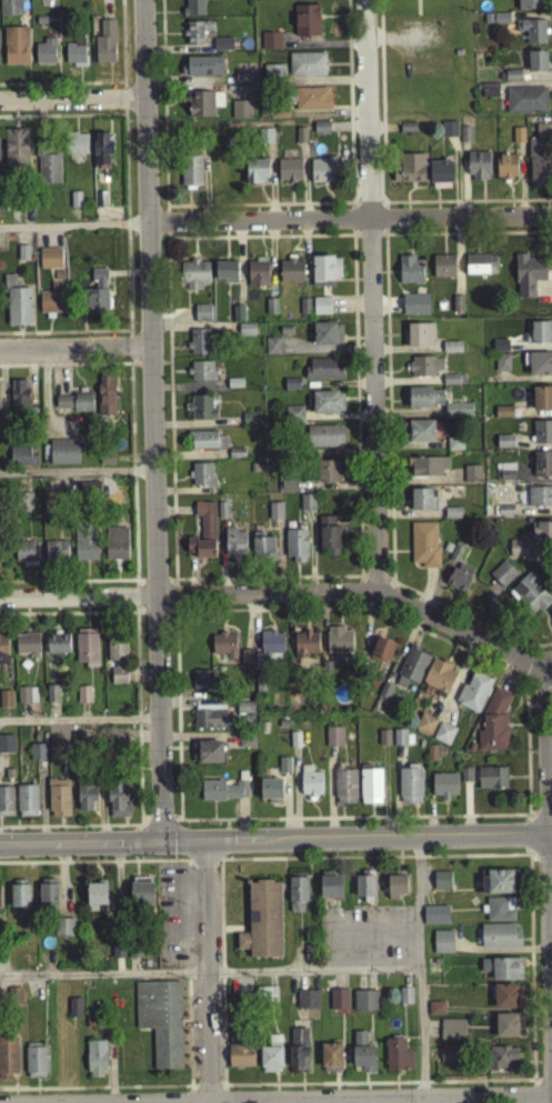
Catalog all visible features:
building: (219, 0)
building: (305, 0)
building: (530, 7)
building: (193, 9)
building: (10, 10)
road: (416, 10)
building: (486, 23)
building: (500, 23)
building: (305, 26)
road: (416, 31)
building: (531, 34)
building: (197, 37)
road: (393, 42)
road: (121, 46)
building: (270, 46)
building: (104, 48)
building: (222, 49)
parking lot: (415, 50)
building: (14, 51)
building: (44, 57)
building: (74, 58)
building: (458, 58)
building: (535, 66)
building: (305, 69)
building: (204, 71)
building: (272, 77)
building: (512, 80)
building: (242, 82)
road: (60, 89)
building: (489, 94)
road: (122, 103)
building: (311, 103)
building: (525, 104)
road: (71, 106)
building: (203, 108)
building: (240, 114)
road: (64, 121)
building: (321, 132)
building: (407, 132)
road: (381, 133)
building: (449, 133)
building: (464, 139)
building: (300, 140)
building: (264, 141)
building: (77, 148)
building: (16, 153)
building: (101, 154)
building: (538, 167)
building: (47, 171)
building: (478, 171)
building: (505, 171)
building: (409, 172)
building: (190, 174)
building: (289, 176)
building: (322, 176)
building: (255, 177)
building: (440, 179)
road: (379, 189)
road: (260, 197)
road: (367, 208)
road: (380, 208)
road: (267, 209)
road: (351, 209)
road: (258, 210)
road: (384, 210)
road: (255, 213)
road: (165, 215)
road: (255, 221)
road: (349, 223)
road: (384, 223)
road: (351, 224)
road: (165, 228)
road: (72, 231)
road: (126, 231)
road: (351, 240)
road: (352, 240)
road: (368, 240)
road: (383, 240)
road: (167, 241)
building: (49, 263)
building: (479, 269)
building: (443, 271)
building: (291, 274)
building: (410, 274)
building: (225, 275)
building: (324, 275)
building: (257, 278)
building: (193, 279)
building: (526, 279)
building: (97, 297)
road: (370, 298)
building: (50, 304)
building: (17, 308)
building: (415, 309)
building: (321, 311)
building: (201, 318)
road: (142, 334)
building: (539, 337)
road: (68, 338)
building: (327, 339)
building: (419, 340)
building: (198, 347)
building: (499, 350)
building: (272, 351)
building: (451, 352)
road: (129, 353)
road: (74, 355)
building: (501, 368)
building: (538, 368)
road: (136, 369)
road: (148, 369)
road: (164, 369)
road: (69, 370)
building: (424, 371)
building: (323, 373)
building: (200, 375)
building: (451, 384)
building: (291, 389)
building: (18, 400)
building: (106, 400)
building: (424, 402)
building: (541, 403)
building: (327, 407)
building: (72, 408)
building: (200, 412)
building: (458, 415)
road: (388, 417)
building: (502, 417)
building: (293, 419)
road: (150, 422)
building: (420, 435)
building: (542, 437)
building: (323, 441)
building: (205, 444)
building: (503, 447)
building: (454, 449)
building: (63, 457)
building: (20, 462)
building: (542, 469)
building: (428, 471)
building: (327, 475)
road: (74, 477)
building: (504, 477)
building: (200, 479)
building: (471, 479)
road: (132, 481)
building: (288, 491)
building: (88, 494)
building: (539, 501)
building: (420, 504)
building: (51, 505)
building: (23, 507)
building: (307, 508)
building: (274, 515)
building: (202, 537)
building: (542, 538)
building: (328, 540)
building: (86, 545)
building: (234, 548)
building: (116, 549)
building: (424, 549)
building: (295, 550)
building: (261, 552)
building: (516, 554)
building: (26, 555)
building: (54, 555)
building: (1, 556)
building: (502, 578)
road: (359, 581)
building: (459, 582)
road: (375, 583)
road: (153, 584)
road: (171, 584)
road: (389, 584)
road: (71, 586)
road: (393, 591)
road: (359, 592)
road: (284, 598)
road: (390, 599)
building: (530, 599)
road: (172, 601)
road: (136, 602)
road: (136, 613)
road: (319, 614)
road: (155, 616)
road: (171, 616)
road: (140, 618)
building: (338, 645)
road: (136, 646)
building: (57, 648)
building: (27, 649)
building: (304, 649)
building: (223, 650)
road: (514, 650)
building: (271, 651)
building: (86, 652)
building: (2, 653)
building: (381, 653)
road: (508, 661)
building: (116, 662)
road: (503, 671)
building: (411, 672)
building: (439, 681)
building: (202, 684)
building: (472, 696)
building: (383, 698)
building: (51, 699)
building: (82, 699)
building: (26, 700)
building: (4, 703)
road: (530, 710)
road: (543, 710)
building: (244, 713)
building: (209, 723)
road: (78, 725)
building: (493, 728)
building: (424, 730)
building: (443, 738)
building: (112, 740)
building: (332, 741)
building: (383, 742)
building: (399, 742)
building: (245, 748)
building: (6, 749)
road: (545, 756)
building: (52, 758)
building: (209, 758)
building: (37, 762)
building: (283, 770)
building: (464, 780)
building: (491, 782)
building: (309, 786)
building: (409, 790)
building: (344, 791)
building: (370, 791)
building: (443, 791)
building: (270, 793)
building: (222, 795)
building: (86, 801)
building: (58, 803)
building: (117, 804)
building: (26, 805)
building: (6, 806)
road: (543, 819)
road: (532, 820)
road: (139, 821)
road: (160, 822)
road: (175, 822)
road: (143, 823)
road: (377, 823)
road: (205, 825)
road: (76, 831)
road: (354, 840)
road: (79, 846)
traffic signals: (159, 846)
traffic signals: (204, 846)
road: (223, 848)
road: (134, 849)
road: (317, 863)
road: (134, 864)
road: (219, 865)
road: (96, 868)
road: (191, 870)
road: (203, 870)
road: (190, 871)
road: (550, 883)
building: (441, 885)
building: (499, 886)
building: (364, 890)
building: (397, 890)
building: (330, 891)
building: (141, 896)
building: (297, 896)
building: (96, 899)
building: (48, 901)
building: (19, 902)
building: (0, 912)
building: (500, 914)
road: (342, 920)
road: (219, 921)
building: (434, 921)
road: (189, 923)
building: (261, 925)
building: (63, 932)
road: (372, 933)
road: (232, 934)
building: (499, 941)
parking lot: (367, 942)
road: (372, 945)
building: (442, 947)
road: (372, 964)
road: (419, 970)
building: (502, 973)
road: (207, 974)
road: (221, 977)
road: (313, 977)
road: (103, 980)
road: (187, 980)
building: (264, 1000)
building: (14, 1001)
building: (405, 1001)
building: (508, 1002)
building: (339, 1004)
building: (307, 1005)
building: (364, 1005)
building: (74, 1013)
building: (435, 1014)
building: (160, 1025)
road: (184, 1027)
building: (509, 1031)
building: (452, 1035)
road: (221, 1040)
road: (189, 1041)
building: (298, 1054)
building: (362, 1057)
building: (450, 1060)
building: (271, 1061)
building: (398, 1061)
building: (8, 1062)
building: (240, 1062)
building: (330, 1062)
building: (96, 1064)
building: (502, 1064)
building: (36, 1066)
road: (318, 1090)
road: (141, 1092)
road: (495, 1099)

